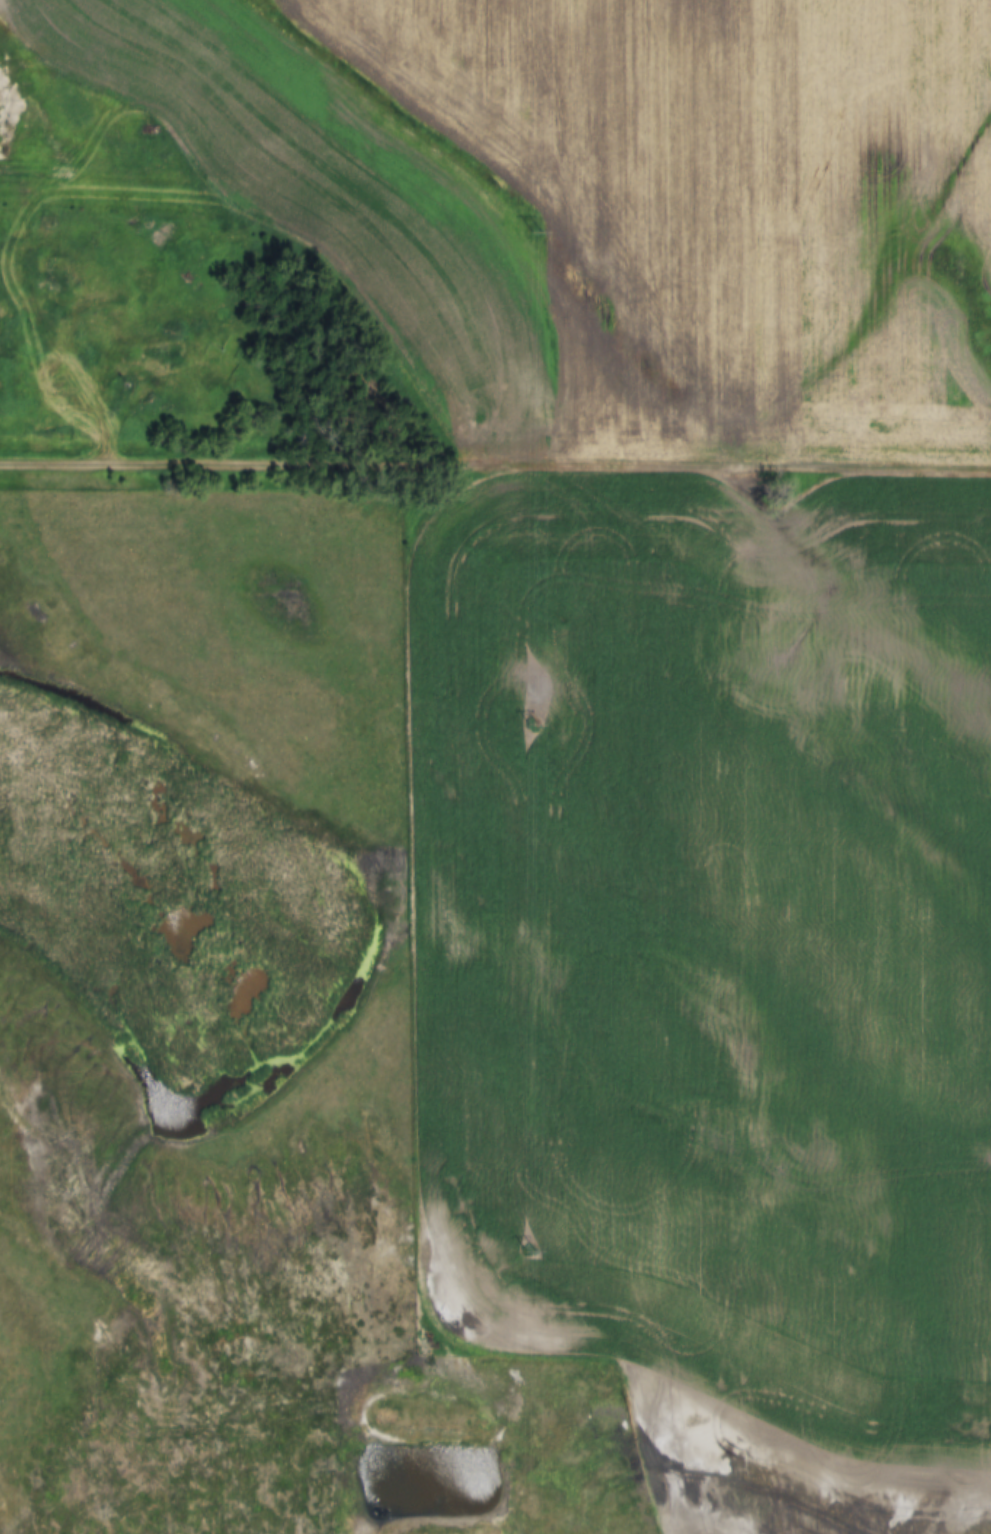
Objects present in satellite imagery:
power tower: (534, 232)
road: (495, 470)
power tower: (532, 724)
power tower: (531, 1246)

